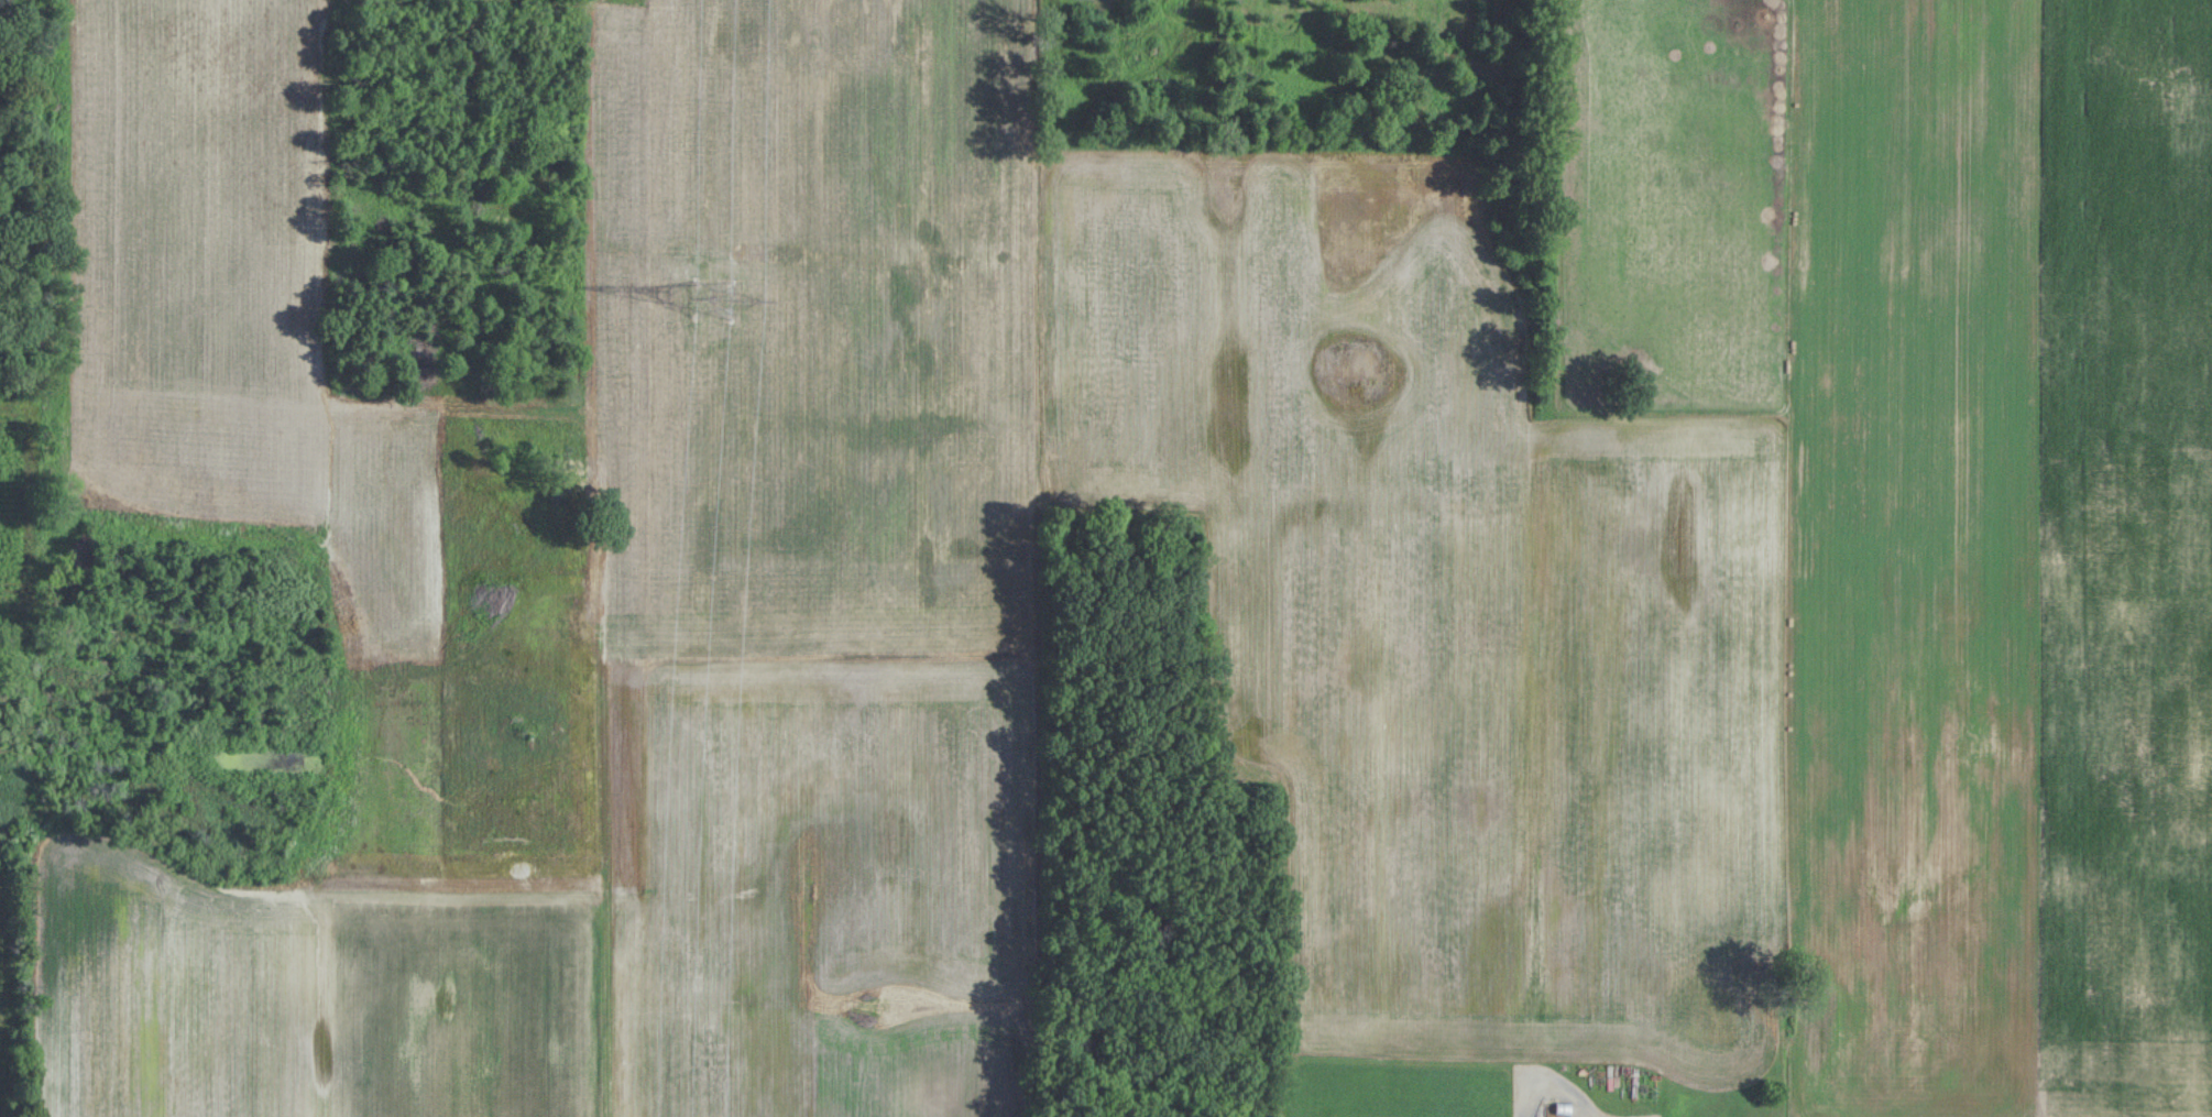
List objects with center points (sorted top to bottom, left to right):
power tower: (712, 294)
building: (1600, 1064)

